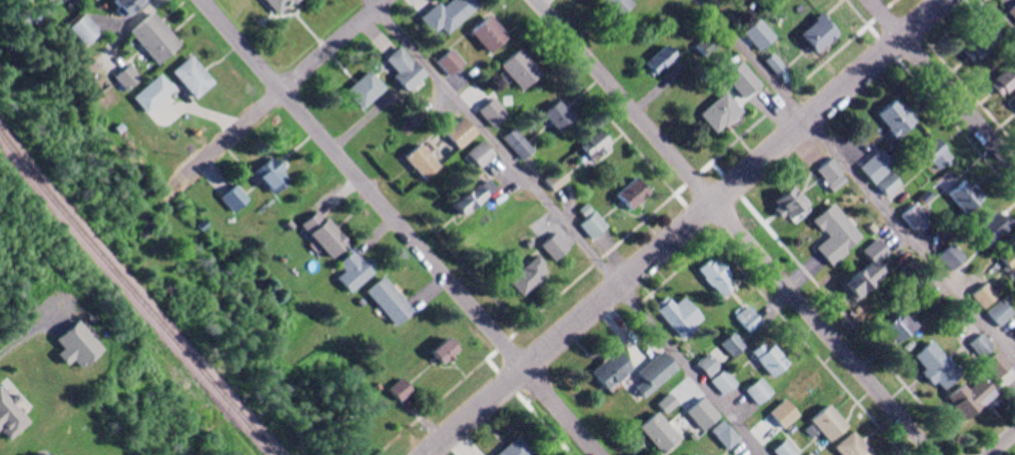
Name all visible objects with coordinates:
road: (965, 82)
road: (941, 84)
road: (275, 94)
road: (930, 95)
road: (855, 182)
road: (401, 227)
road: (683, 227)
road: (733, 227)
road: (565, 228)
railway: (137, 295)
road: (1000, 442)

